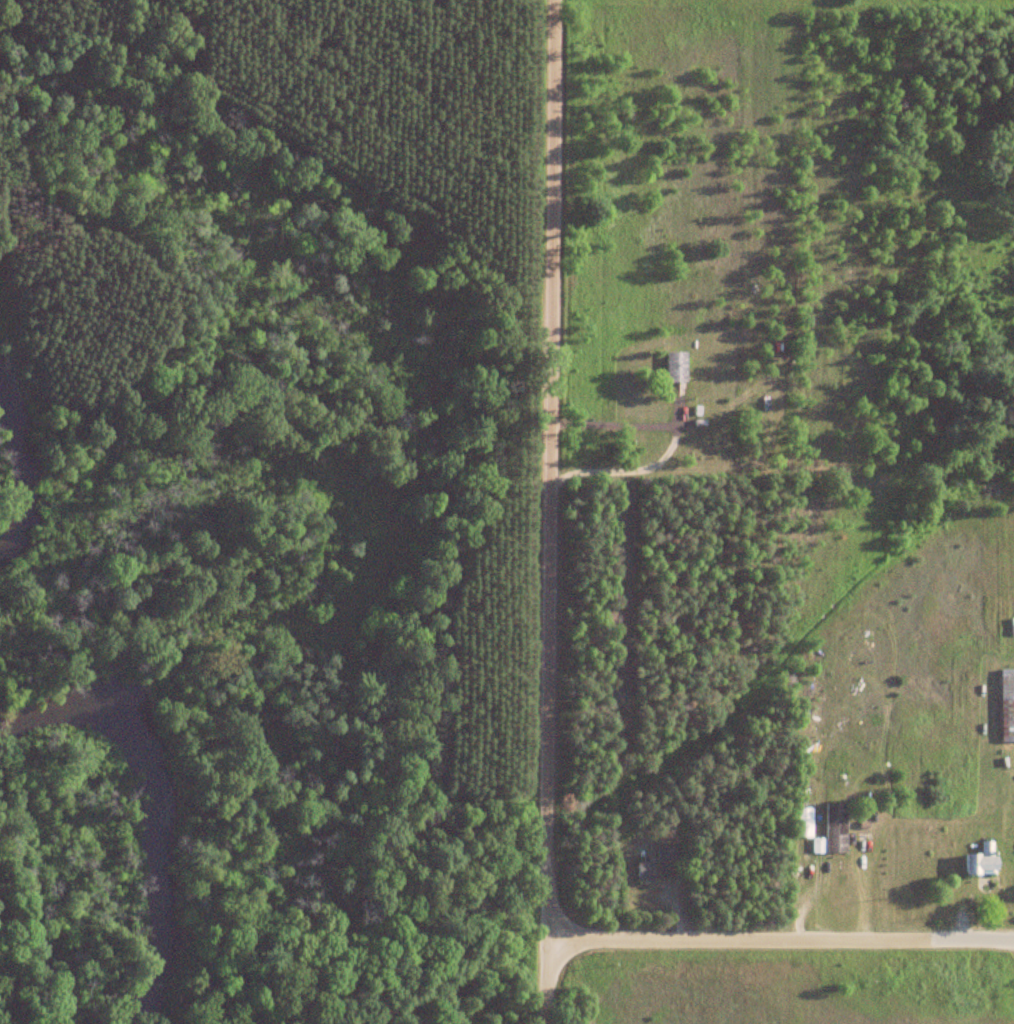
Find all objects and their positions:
road: (12, 86)
building: (674, 368)
road: (675, 444)
river: (19, 468)
road: (535, 512)
building: (1006, 706)
river: (156, 804)
building: (834, 829)
building: (666, 854)
building: (982, 861)
building: (643, 872)
road: (605, 942)
road: (844, 942)

